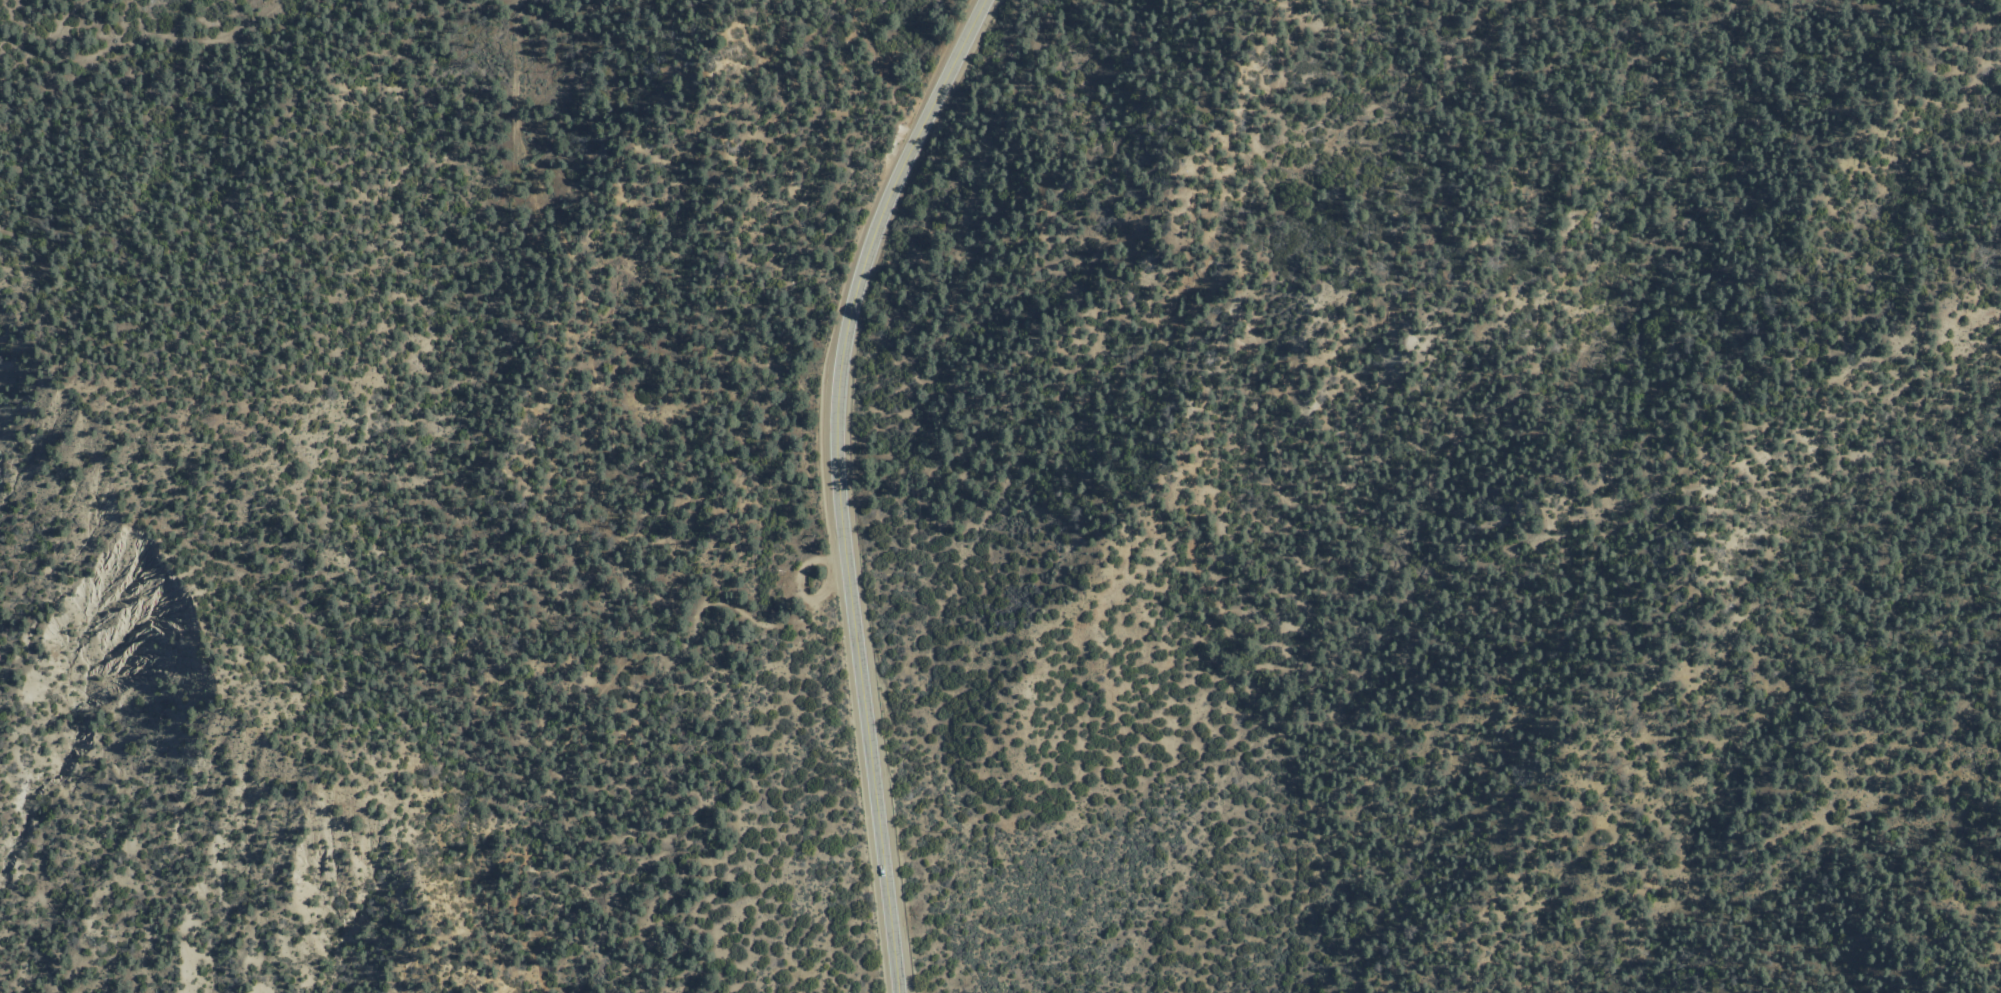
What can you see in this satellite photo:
road: (838, 482)

